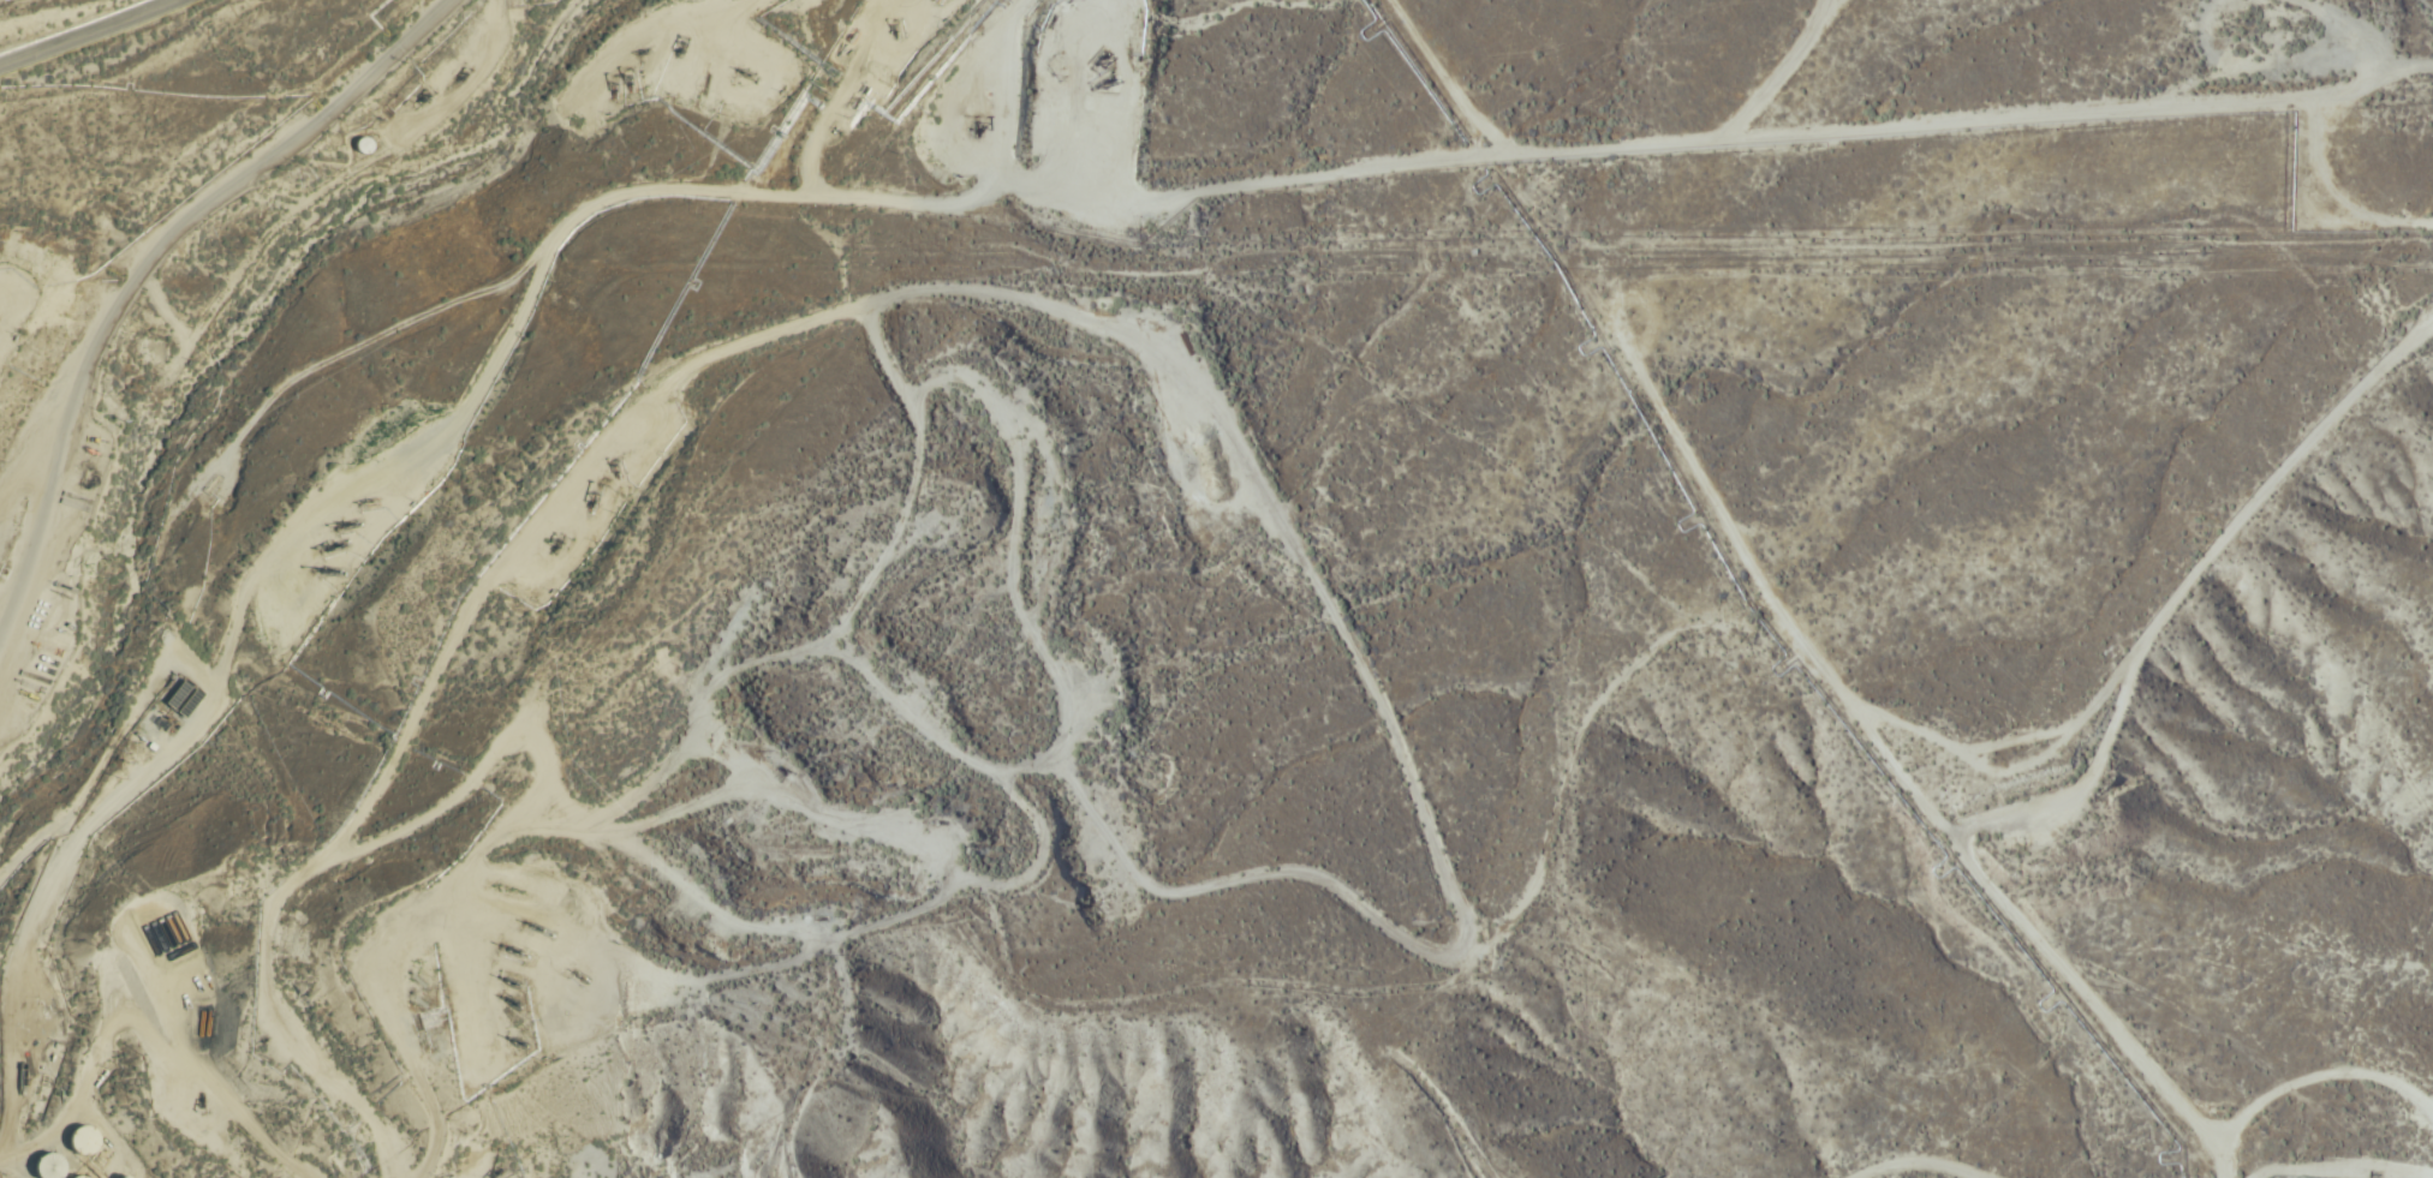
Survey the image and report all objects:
road: (93, 37)
road: (1782, 138)
road: (149, 271)
building: (0, 336)
building: (150, 353)
road: (136, 588)
building: (87, 1140)
building: (61, 1170)

